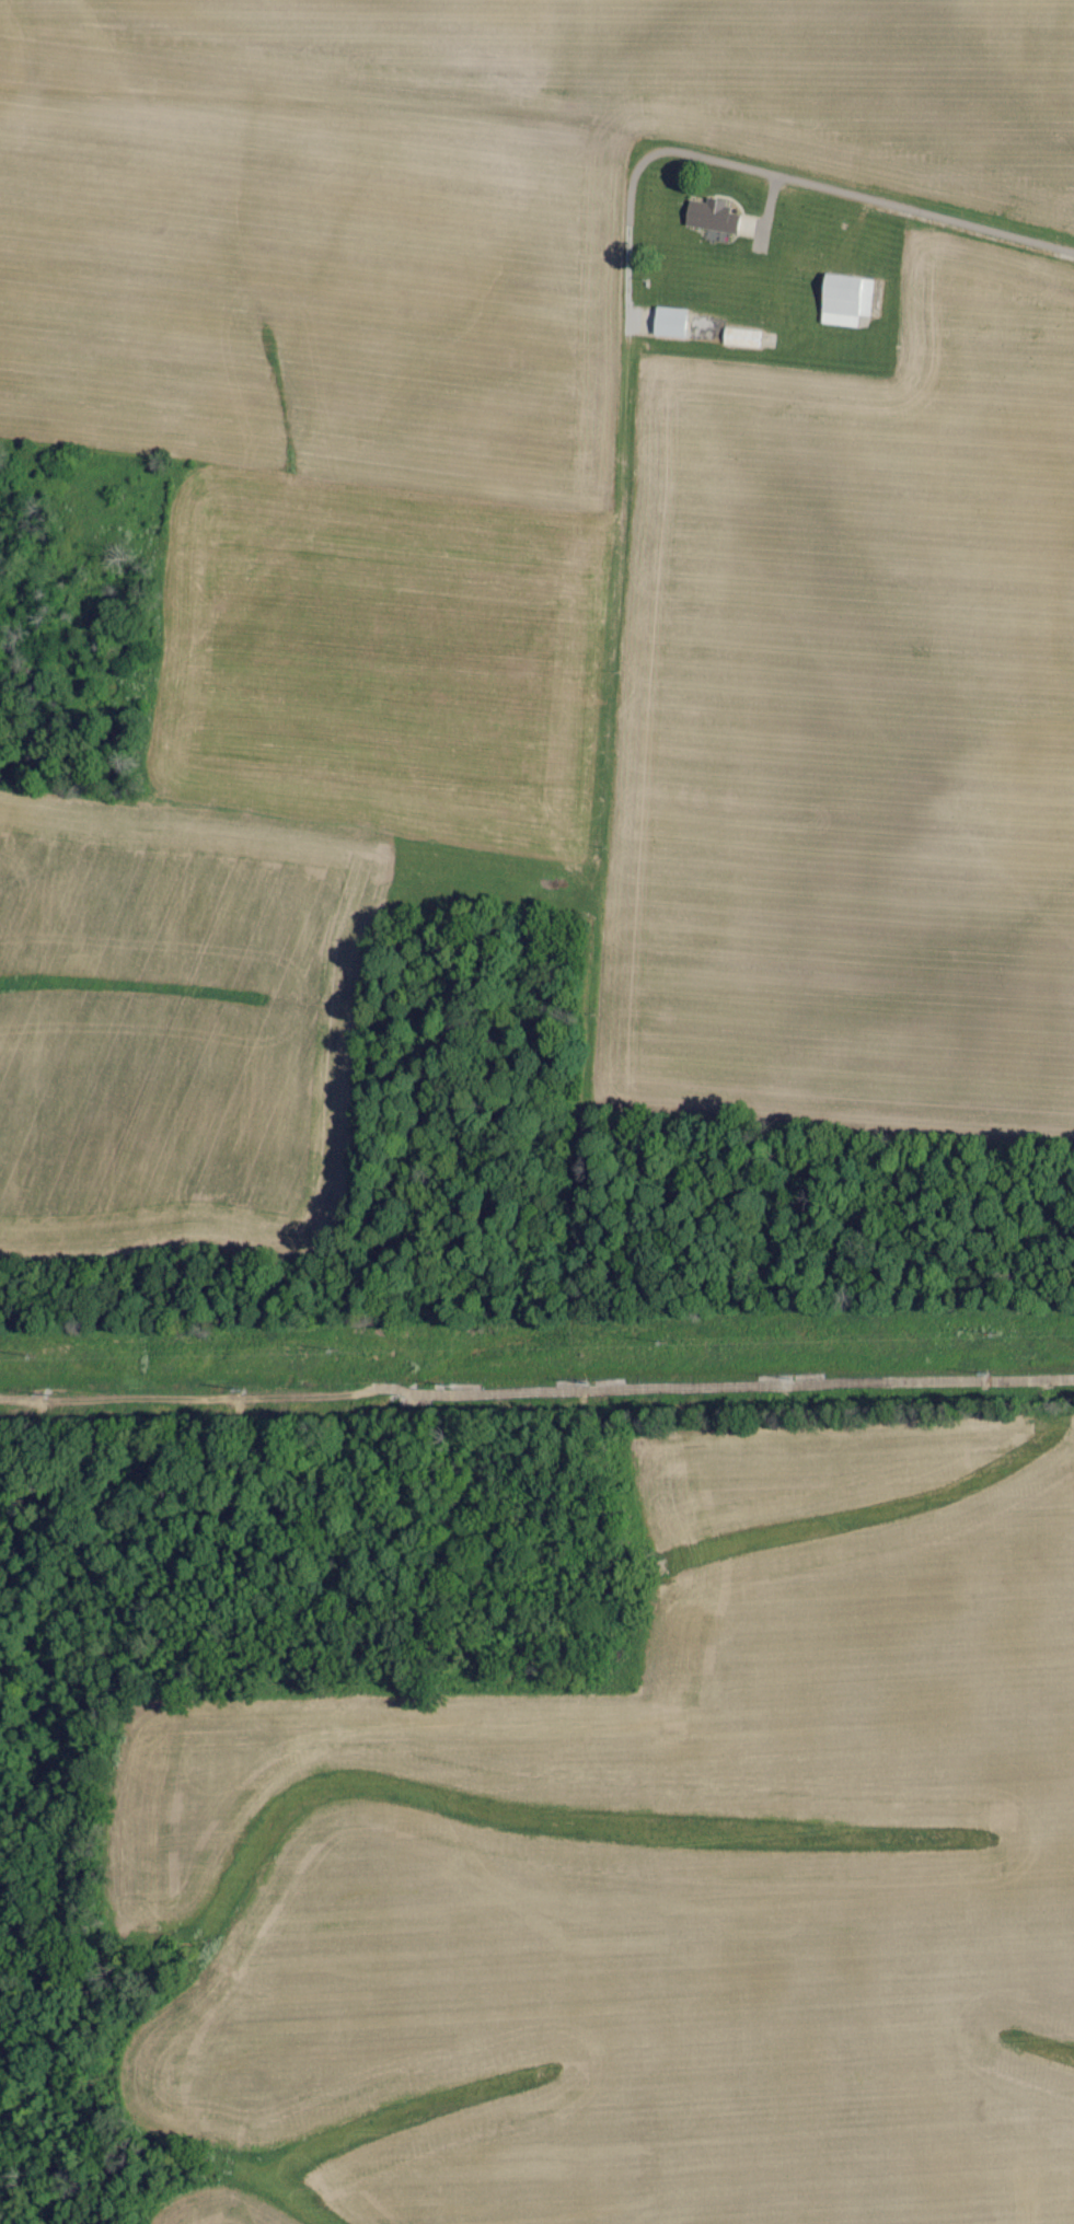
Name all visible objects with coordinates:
road: (871, 197)
building: (697, 221)
building: (851, 292)
building: (778, 310)
building: (668, 321)
building: (743, 336)

